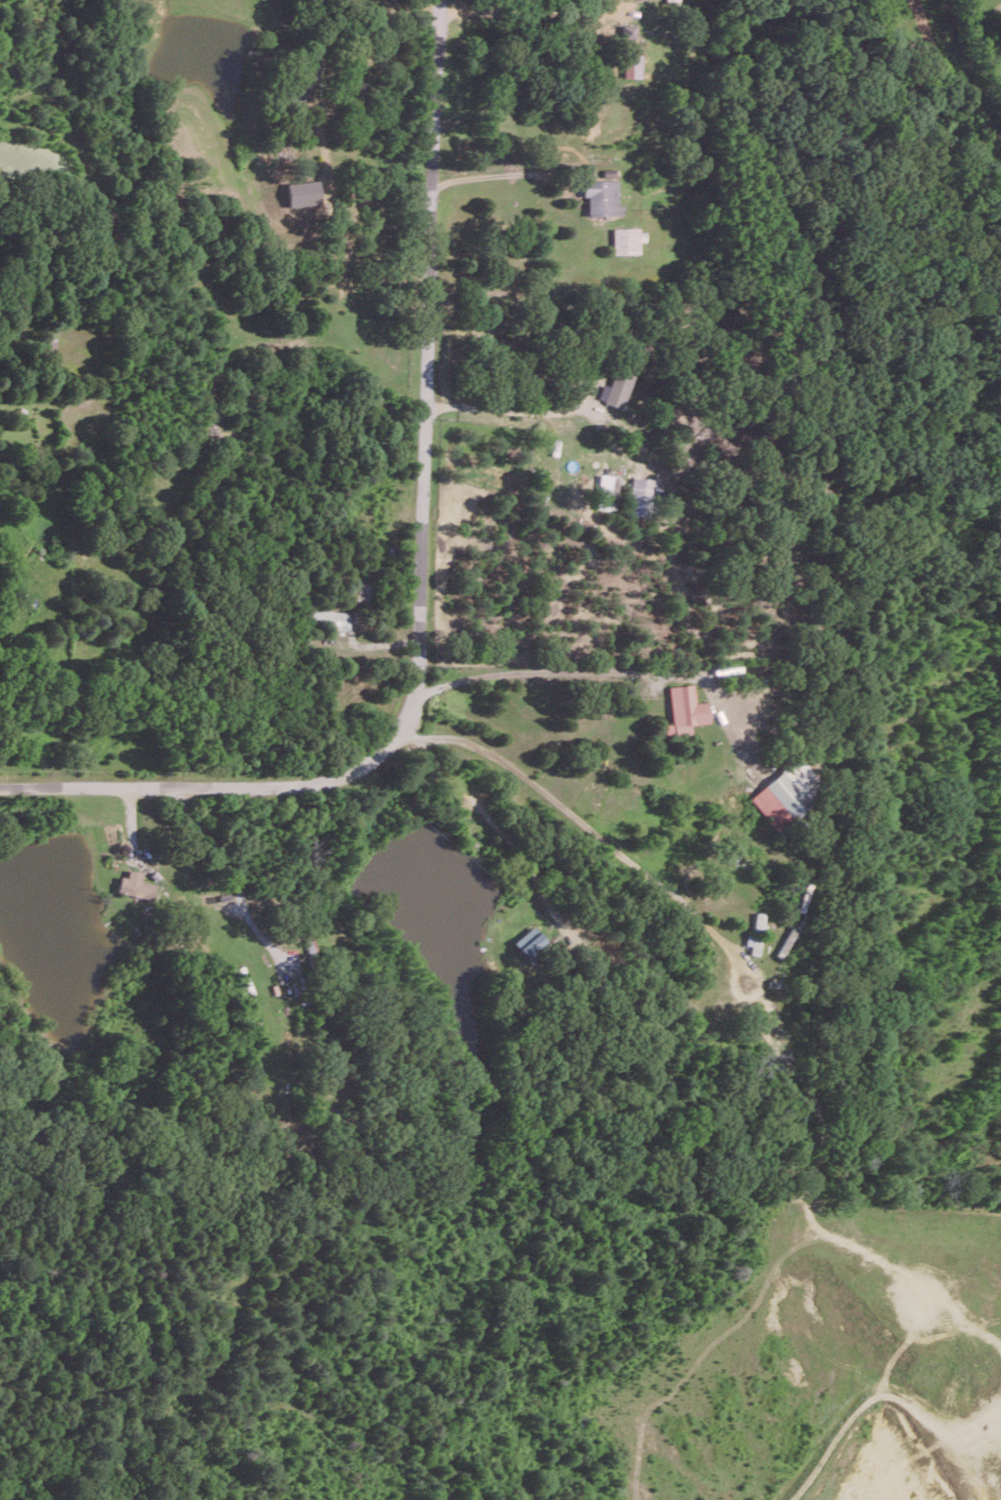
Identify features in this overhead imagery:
road: (531, 9)
building: (627, 32)
building: (632, 65)
road: (493, 166)
building: (302, 192)
building: (601, 196)
road: (344, 222)
building: (627, 240)
building: (616, 388)
road: (505, 409)
building: (607, 491)
building: (644, 497)
road: (419, 576)
building: (332, 617)
road: (538, 666)
building: (684, 709)
building: (787, 794)
road: (488, 817)
road: (581, 822)
road: (238, 865)
building: (135, 885)
building: (757, 921)
building: (528, 942)
building: (753, 942)

